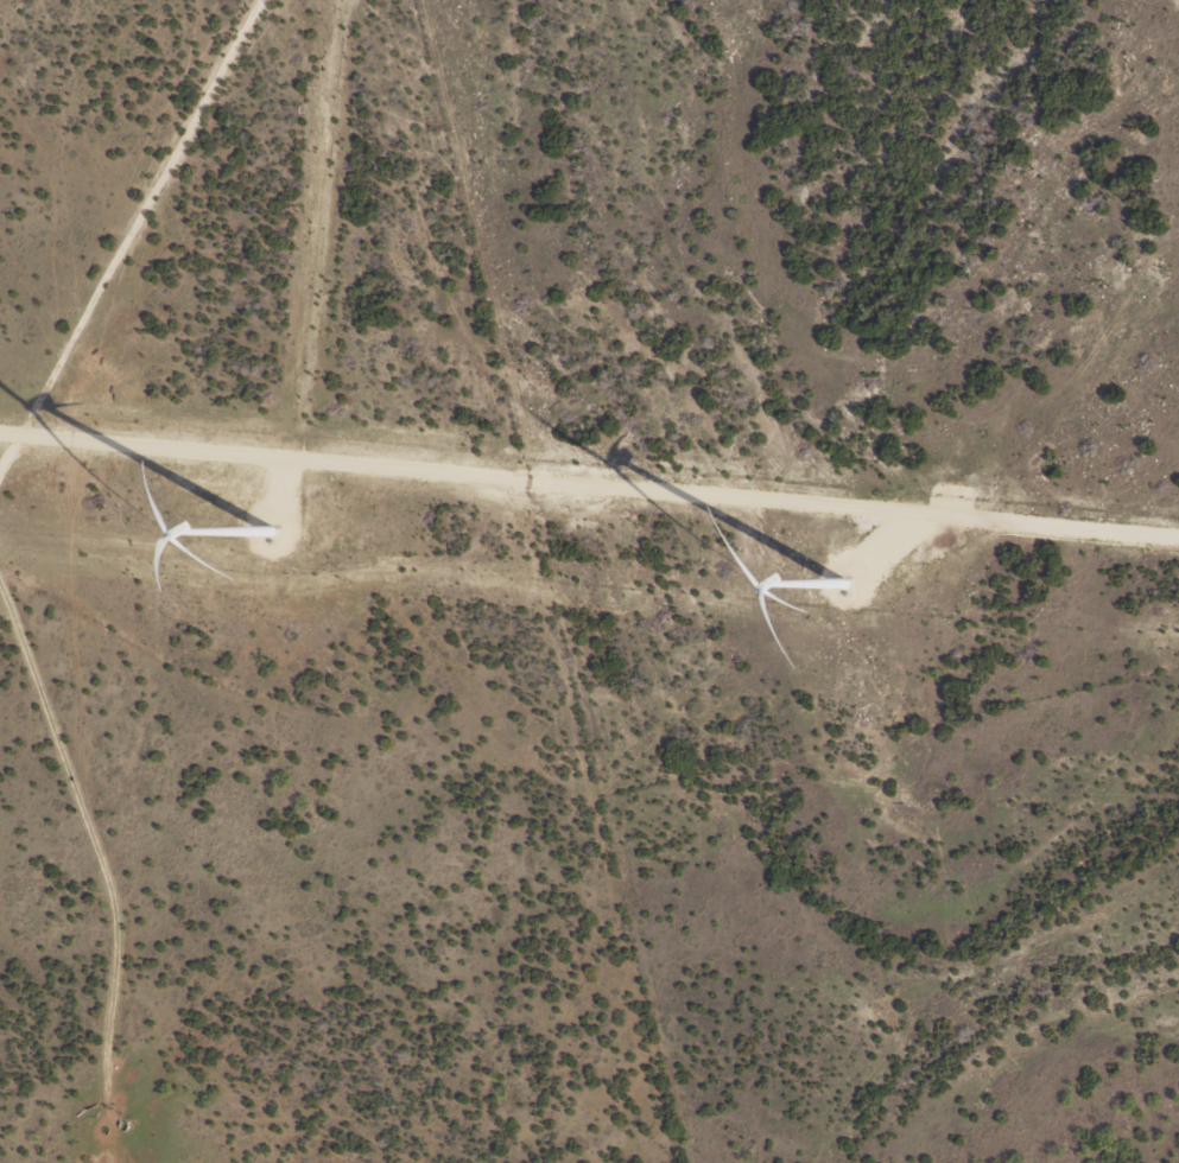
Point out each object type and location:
road: (196, 280)
wind turbine: (272, 509)
wind turbine: (844, 566)

